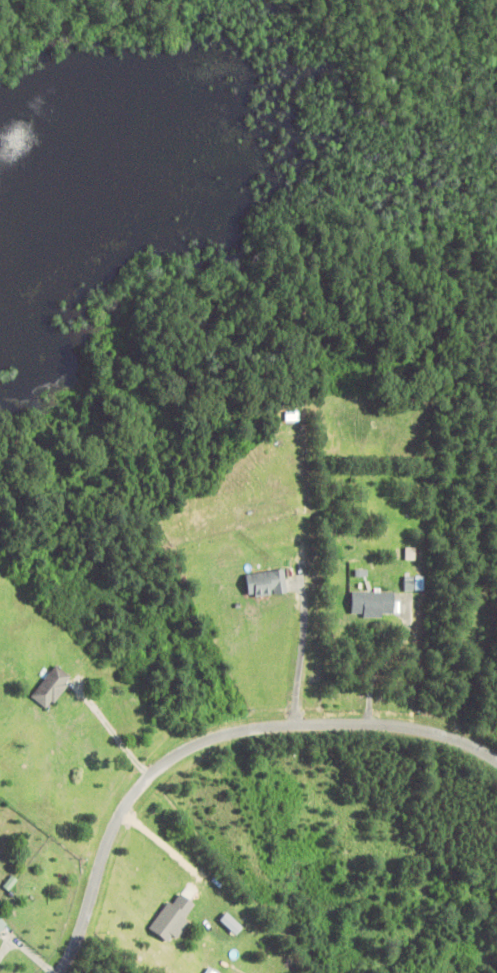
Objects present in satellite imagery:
building: (266, 584)
building: (372, 605)
building: (50, 687)
road: (211, 738)
building: (3, 928)

